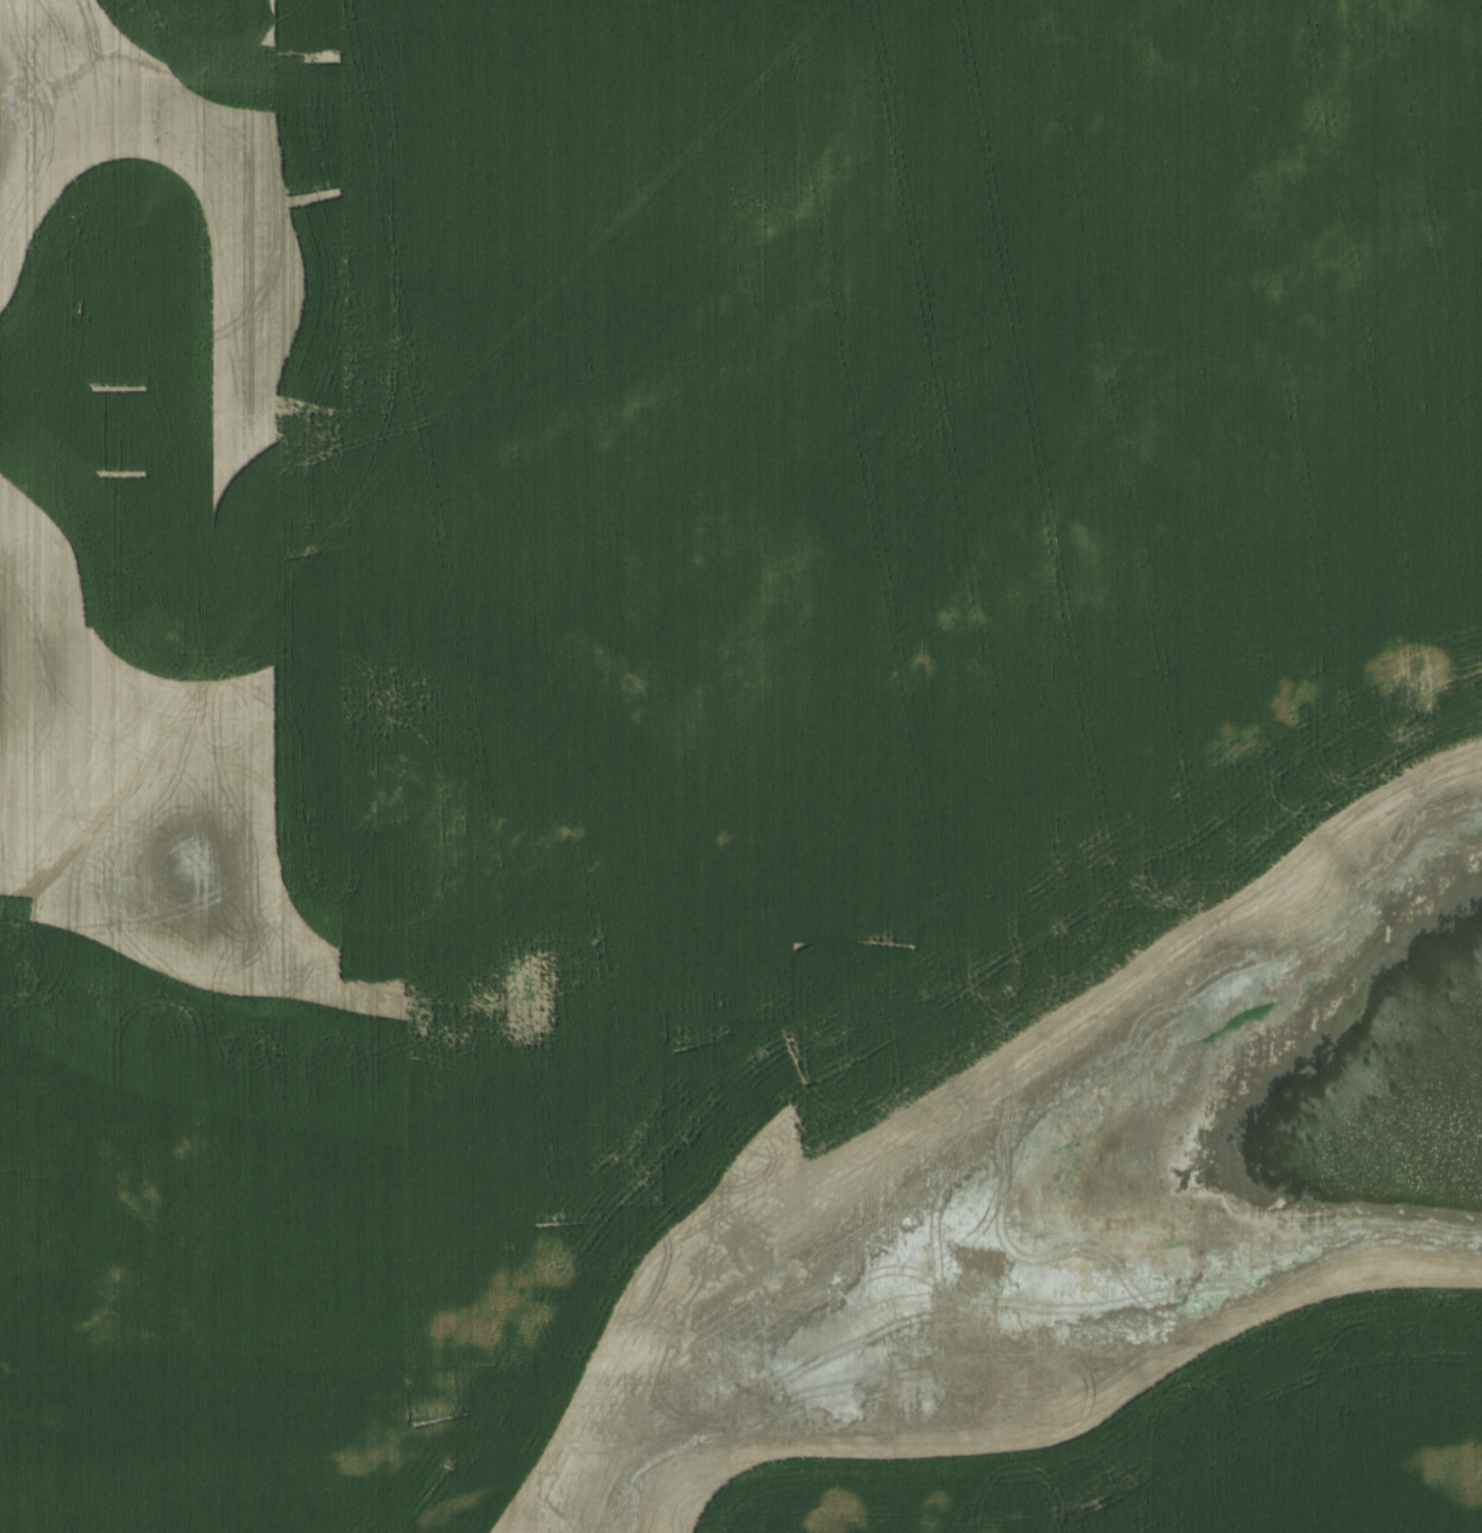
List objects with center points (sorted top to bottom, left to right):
building: (3, 669)

